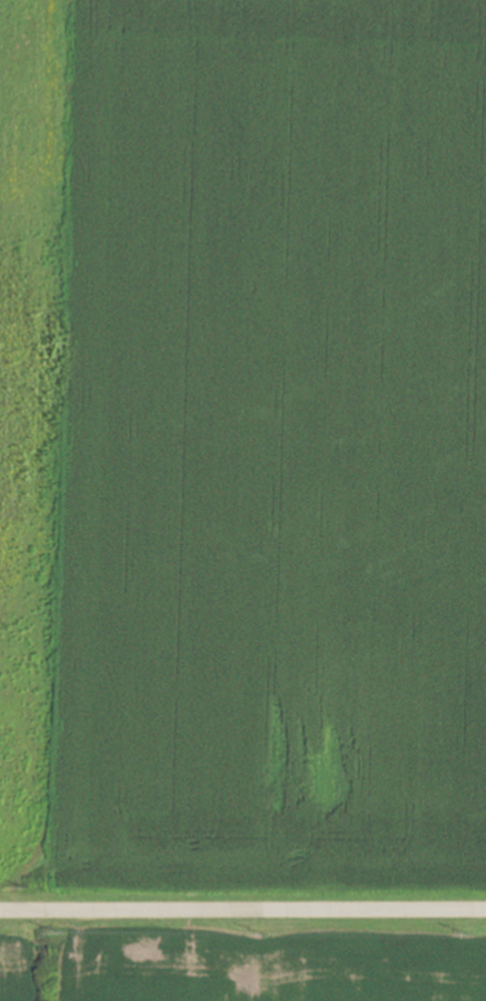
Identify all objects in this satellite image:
road: (242, 908)
crop: (242, 969)

